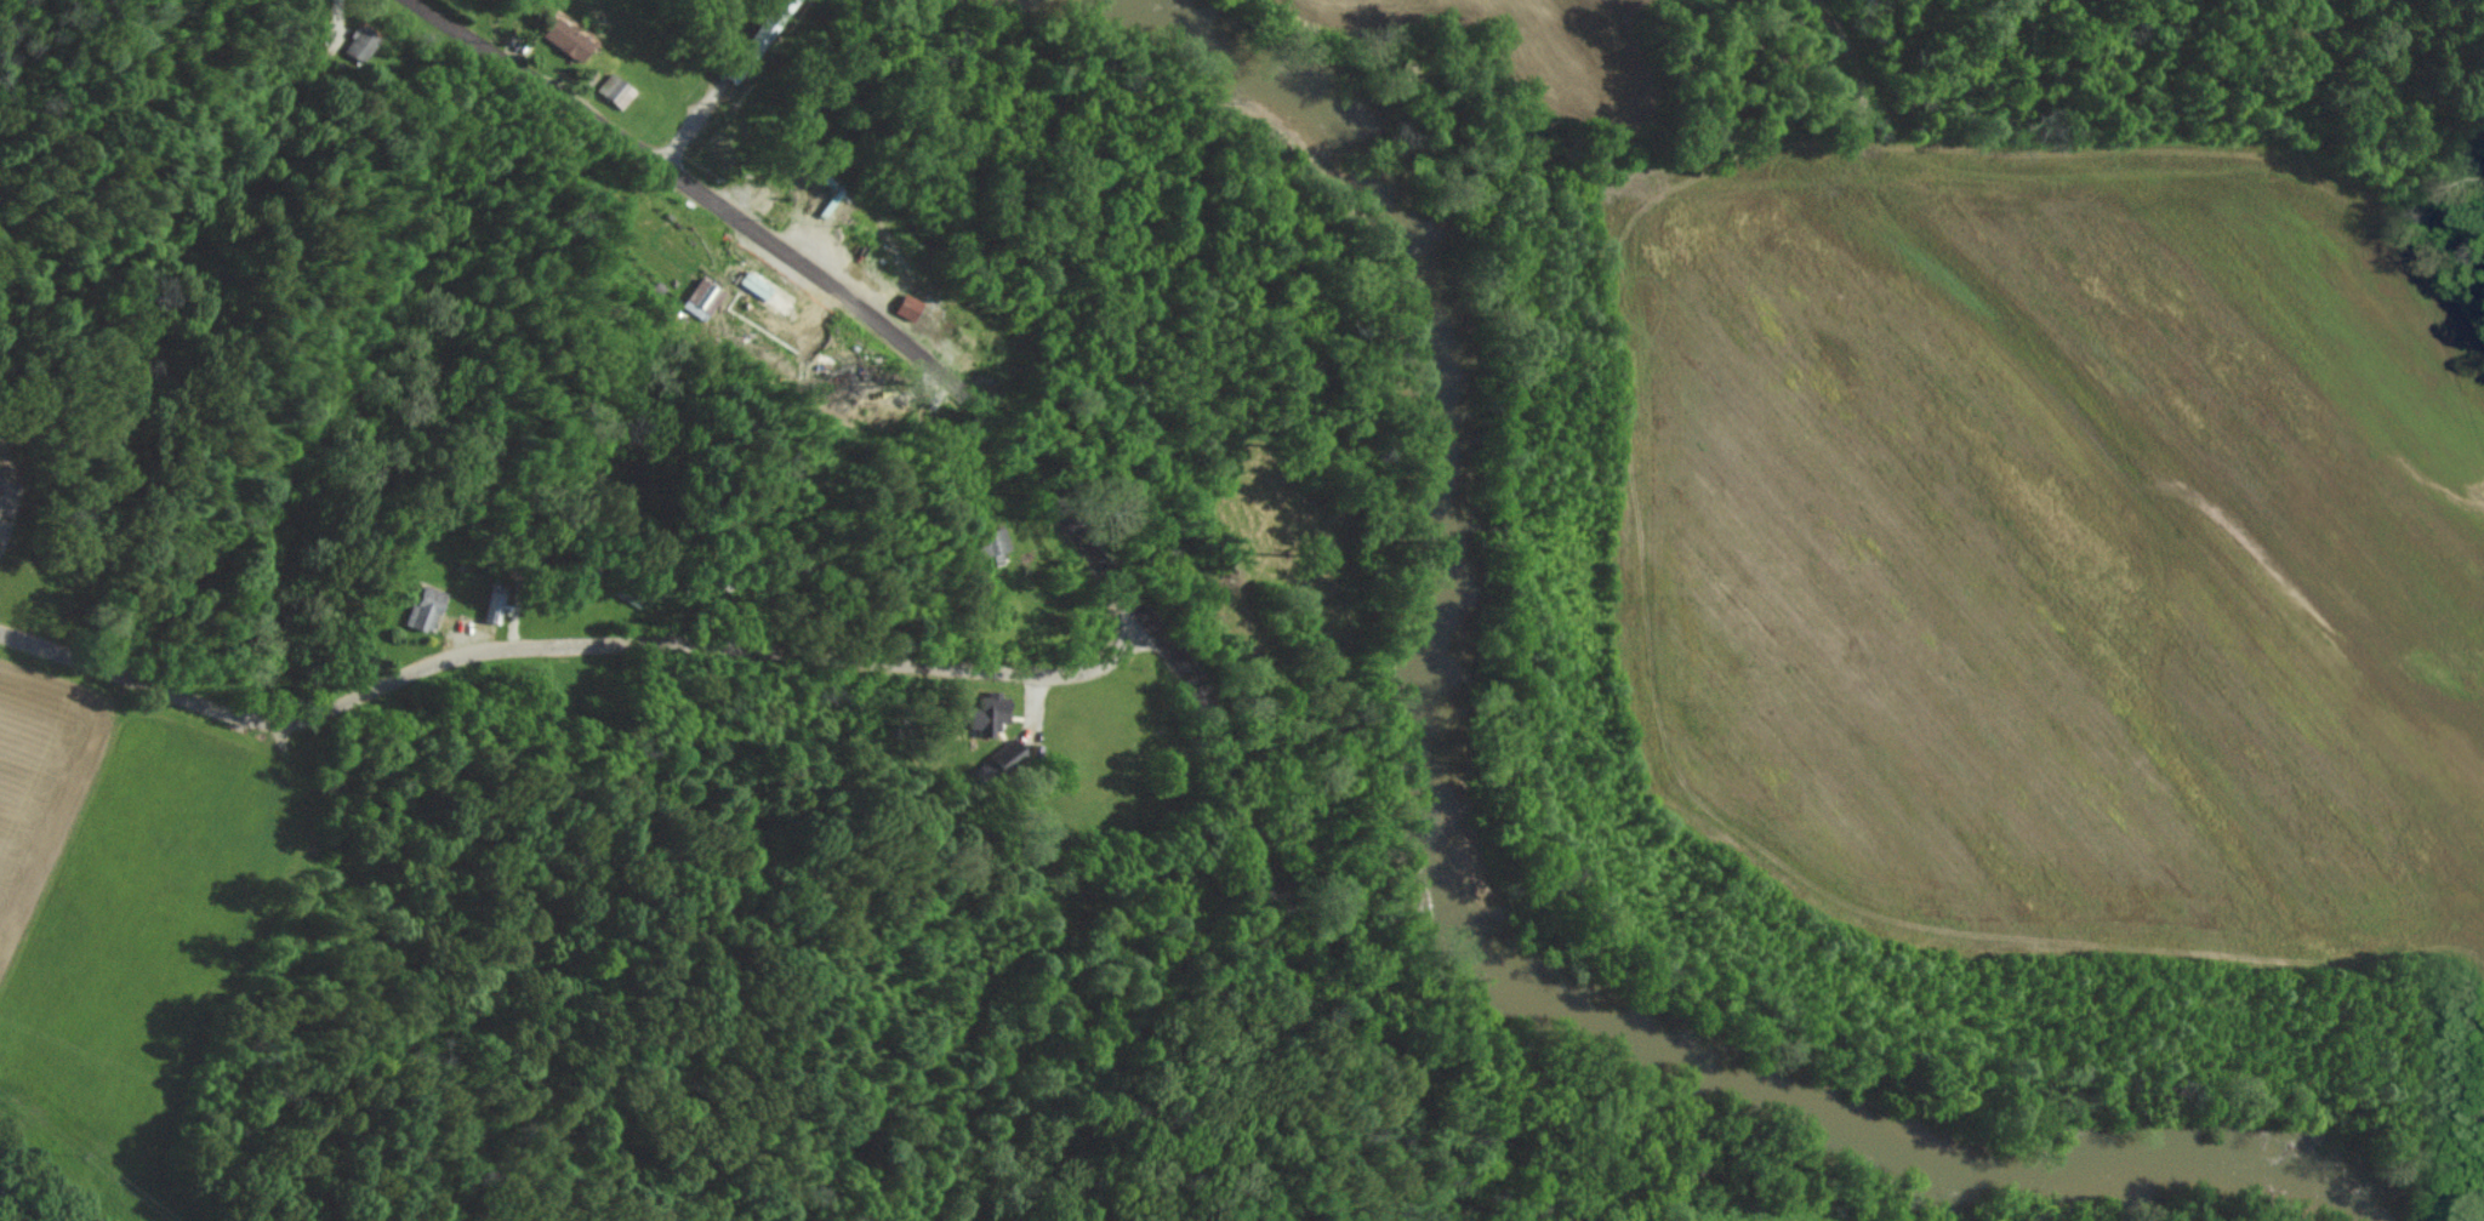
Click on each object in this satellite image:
road: (757, 38)
building: (563, 39)
building: (360, 42)
building: (614, 90)
road: (699, 121)
parking lot: (776, 267)
building: (767, 291)
building: (700, 298)
road: (1055, 498)
building: (992, 541)
building: (423, 606)
road: (570, 655)
building: (991, 706)
river: (1455, 902)

